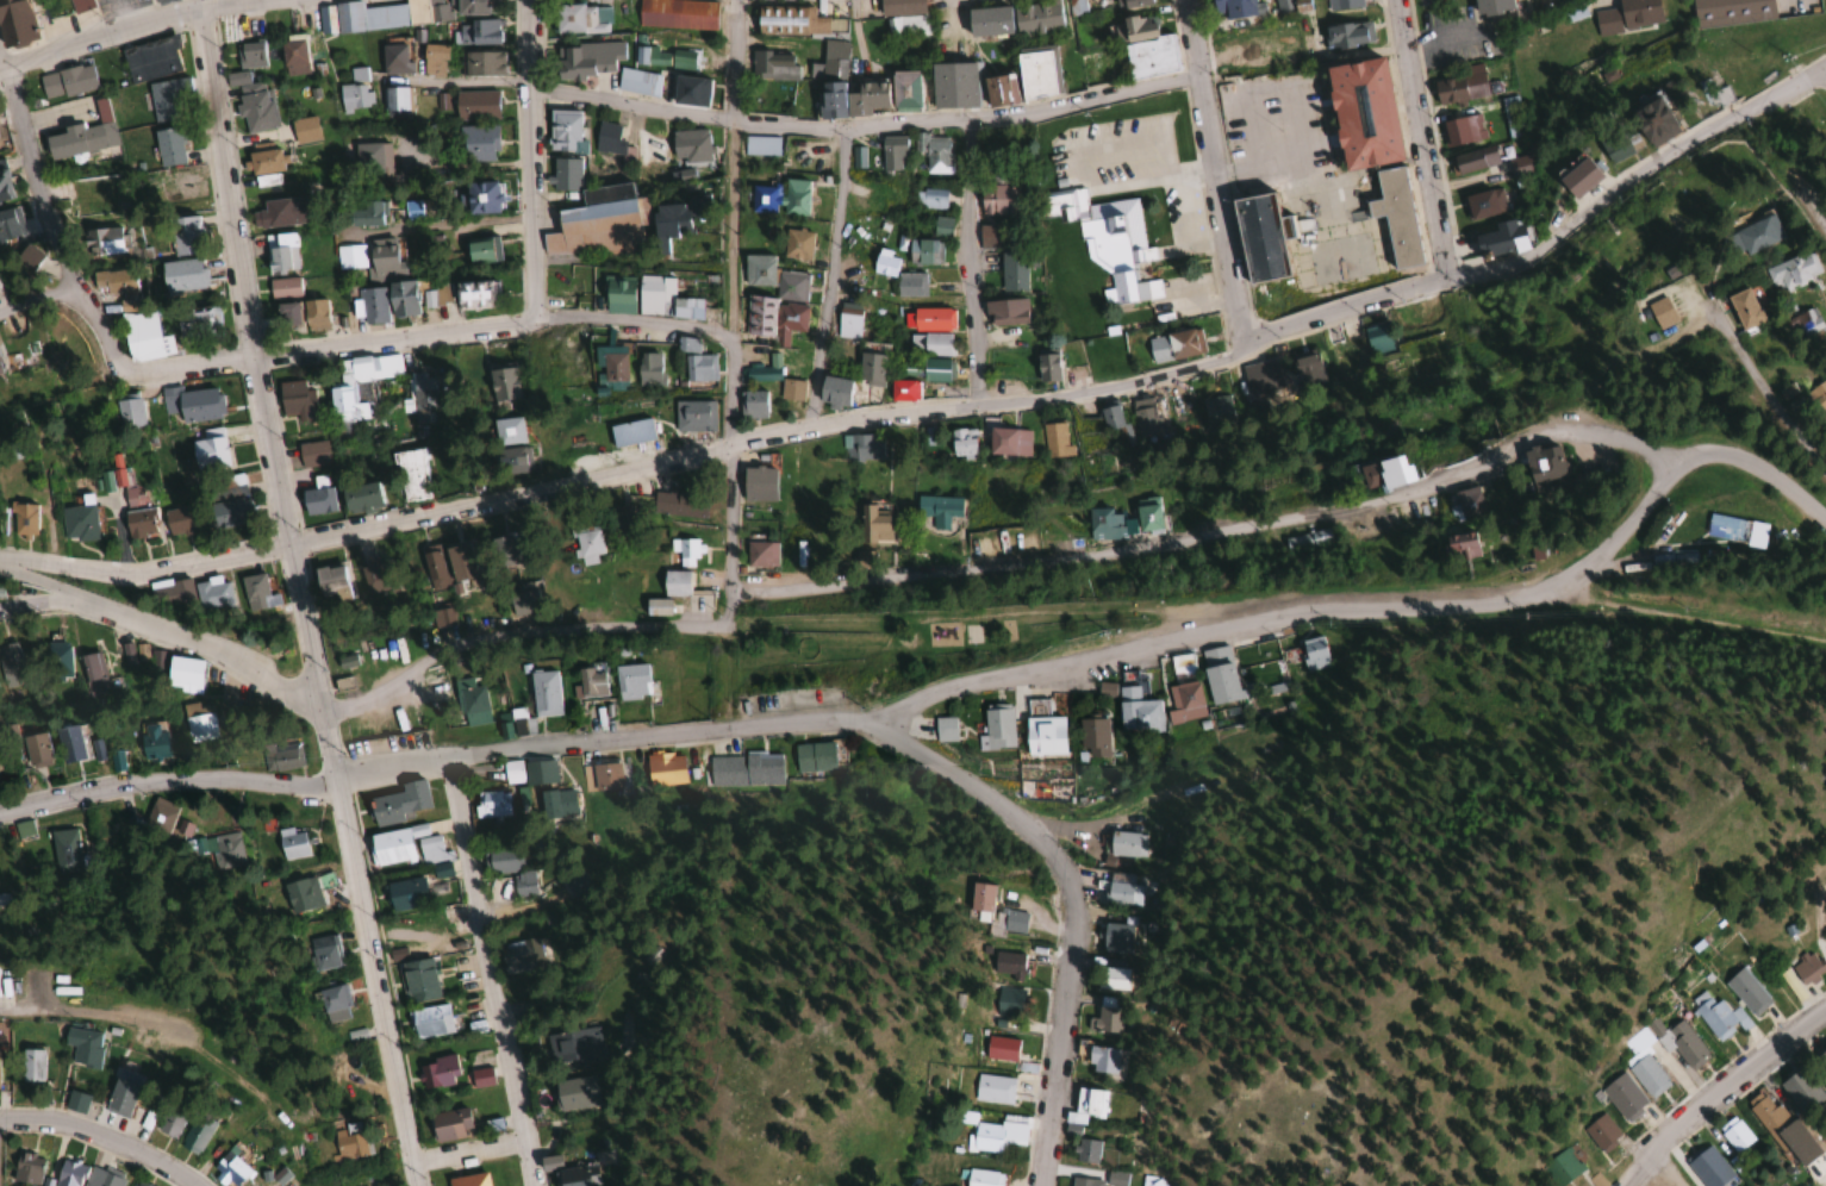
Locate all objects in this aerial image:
building: (1130, 4)
building: (1341, 4)
building: (79, 5)
building: (468, 6)
parking lot: (1796, 6)
building: (1074, 8)
building: (1234, 8)
building: (1488, 8)
building: (1731, 11)
building: (677, 13)
building: (376, 15)
building: (903, 15)
building: (1627, 15)
building: (580, 18)
building: (1035, 19)
building: (787, 20)
building: (13, 21)
building: (986, 23)
road: (144, 26)
building: (837, 26)
building: (475, 31)
building: (1347, 33)
building: (1146, 50)
building: (250, 54)
building: (292, 54)
building: (663, 57)
building: (151, 58)
building: (393, 58)
building: (586, 58)
building: (834, 58)
building: (432, 60)
road: (735, 62)
building: (481, 63)
building: (773, 65)
building: (1036, 73)
building: (75, 79)
road: (456, 80)
building: (636, 81)
building: (952, 86)
building: (1458, 86)
building: (904, 89)
building: (687, 90)
building: (355, 92)
building: (997, 92)
building: (1719, 95)
building: (167, 96)
building: (849, 99)
building: (397, 102)
building: (255, 106)
building: (475, 106)
building: (1359, 112)
building: (1650, 121)
road: (865, 129)
building: (304, 130)
building: (1462, 130)
building: (562, 131)
building: (79, 138)
building: (476, 141)
building: (612, 142)
road: (1417, 142)
building: (1620, 143)
building: (168, 146)
building: (760, 146)
building: (691, 148)
building: (653, 149)
building: (935, 154)
building: (892, 155)
building: (856, 158)
building: (1473, 160)
building: (372, 161)
road: (528, 161)
building: (264, 164)
building: (1520, 166)
road: (1219, 173)
building: (1576, 176)
building: (650, 177)
road: (1637, 182)
building: (5, 187)
building: (480, 196)
building: (780, 199)
building: (930, 199)
building: (997, 200)
building: (88, 201)
building: (697, 201)
building: (1484, 202)
road: (1813, 206)
road: (44, 212)
building: (279, 213)
building: (1394, 216)
building: (606, 217)
building: (8, 224)
building: (941, 226)
road: (730, 227)
building: (1755, 232)
building: (185, 235)
building: (987, 236)
building: (1259, 236)
building: (1502, 238)
building: (105, 241)
building: (1107, 241)
building: (794, 248)
building: (478, 249)
building: (922, 251)
building: (280, 252)
building: (26, 256)
road: (972, 261)
building: (883, 263)
building: (756, 270)
building: (1012, 270)
building: (1790, 271)
building: (181, 275)
road: (829, 277)
building: (112, 281)
building: (385, 283)
building: (910, 283)
building: (790, 286)
building: (282, 288)
building: (473, 293)
building: (617, 294)
building: (662, 299)
road: (37, 302)
building: (1741, 307)
building: (1005, 311)
building: (1658, 312)
building: (313, 313)
building: (283, 316)
building: (758, 316)
building: (931, 318)
building: (847, 320)
building: (1807, 320)
building: (787, 322)
building: (197, 323)
road: (422, 336)
building: (142, 337)
building: (1378, 339)
building: (933, 344)
building: (1173, 344)
building: (1347, 356)
building: (694, 362)
building: (612, 363)
building: (1425, 363)
building: (1046, 367)
building: (870, 368)
building: (1309, 368)
building: (648, 369)
building: (927, 369)
building: (764, 370)
building: (1261, 377)
building: (503, 383)
building: (360, 385)
building: (791, 389)
building: (900, 389)
building: (833, 391)
building: (1824, 395)
building: (422, 398)
building: (295, 400)
building: (191, 402)
building: (750, 404)
building: (1217, 408)
building: (127, 411)
building: (693, 416)
road: (868, 416)
building: (1110, 417)
building: (1145, 417)
building: (630, 432)
building: (961, 441)
building: (1007, 441)
building: (1055, 442)
building: (1091, 443)
building: (511, 447)
building: (861, 447)
building: (208, 450)
building: (312, 454)
road: (729, 460)
building: (1541, 464)
building: (1378, 473)
building: (411, 475)
building: (756, 483)
building: (361, 497)
building: (316, 500)
building: (226, 503)
building: (1467, 503)
building: (679, 504)
building: (941, 510)
building: (1146, 514)
building: (624, 519)
building: (21, 520)
building: (179, 520)
building: (138, 522)
building: (77, 523)
building: (1108, 524)
building: (873, 525)
building: (1733, 530)
road: (1215, 533)
building: (542, 536)
building: (1308, 541)
building: (586, 544)
building: (1460, 547)
building: (510, 550)
building: (683, 553)
building: (760, 555)
building: (459, 563)
building: (432, 568)
road: (147, 576)
building: (328, 579)
building: (375, 579)
building: (674, 583)
road: (60, 593)
building: (170, 593)
building: (257, 593)
building: (211, 594)
road: (300, 600)
building: (523, 601)
building: (655, 607)
building: (442, 618)
road: (167, 630)
building: (1314, 653)
building: (56, 661)
building: (345, 662)
building: (12, 667)
building: (177, 669)
building: (92, 674)
building: (1220, 675)
building: (591, 682)
building: (631, 682)
building: (343, 685)
road: (947, 687)
building: (1184, 692)
building: (543, 693)
building: (470, 698)
building: (1138, 711)
building: (199, 724)
building: (997, 728)
building: (945, 729)
building: (1043, 731)
building: (1093, 738)
building: (151, 742)
building: (67, 743)
building: (35, 749)
building: (281, 757)
building: (814, 757)
building: (116, 760)
building: (665, 769)
building: (744, 770)
building: (603, 778)
building: (397, 803)
building: (557, 803)
building: (492, 804)
building: (158, 816)
building: (25, 830)
building: (291, 843)
building: (1126, 844)
building: (388, 848)
building: (225, 850)
building: (64, 851)
building: (434, 856)
building: (500, 861)
building: (524, 884)
building: (575, 885)
building: (301, 893)
building: (1122, 893)
building: (405, 894)
building: (978, 900)
road: (1072, 906)
building: (1014, 922)
building: (1115, 937)
building: (1824, 948)
building: (323, 951)
building: (521, 956)
building: (1005, 963)
building: (1806, 967)
road: (488, 973)
building: (1111, 978)
building: (418, 980)
building: (1746, 991)
building: (331, 998)
building: (1009, 1001)
building: (1713, 1016)
building: (1105, 1018)
building: (429, 1022)
building: (355, 1038)
building: (1684, 1044)
building: (574, 1045)
building: (82, 1047)
building: (999, 1048)
building: (1821, 1055)
building: (1101, 1060)
building: (30, 1066)
building: (437, 1073)
building: (353, 1074)
building: (1647, 1076)
building: (481, 1078)
building: (992, 1090)
building: (1800, 1091)
building: (120, 1092)
road: (1720, 1092)
building: (574, 1093)
building: (1622, 1097)
building: (73, 1101)
building: (1085, 1106)
building: (144, 1119)
building: (1771, 1122)
building: (449, 1125)
building: (1598, 1132)
building: (193, 1134)
building: (1733, 1135)
building: (998, 1136)
road: (101, 1141)
building: (349, 1141)
building: (1088, 1151)
road: (467, 1153)
building: (1560, 1167)
building: (24, 1168)
building: (1707, 1168)
building: (569, 1173)
building: (80, 1175)
building: (981, 1178)
building: (469, 1180)
building: (1151, 1181)
building: (1084, 1182)
building: (137, 1184)

